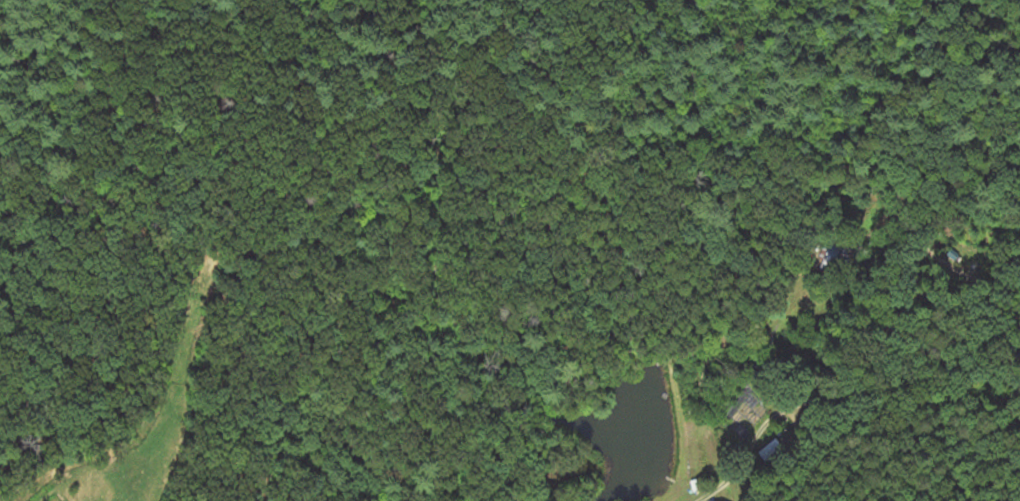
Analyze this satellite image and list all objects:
road: (123, 273)
road: (683, 492)

